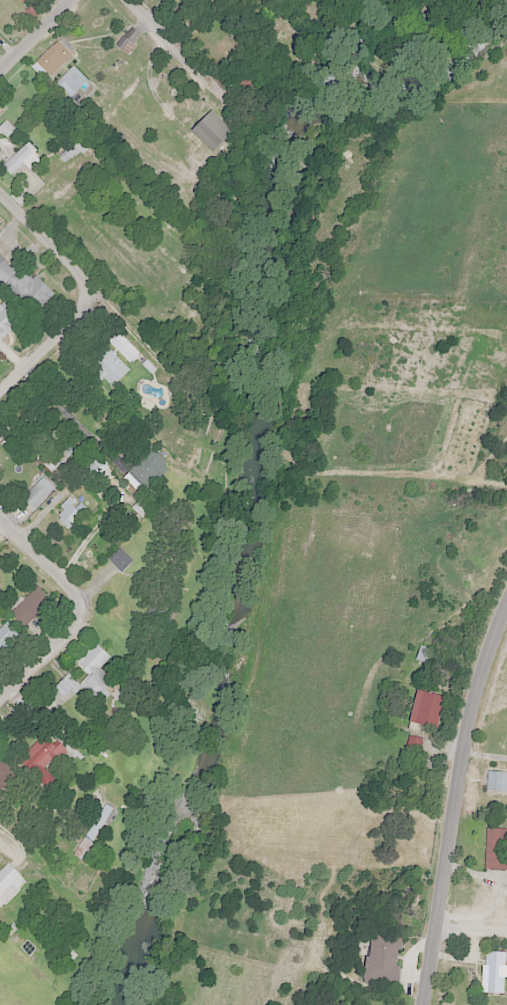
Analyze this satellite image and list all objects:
building: (30, 4)
road: (35, 35)
road: (176, 51)
building: (54, 57)
building: (71, 81)
building: (5, 129)
building: (19, 159)
road: (51, 225)
building: (24, 284)
building: (6, 317)
road: (52, 331)
building: (122, 347)
building: (105, 364)
road: (71, 413)
river: (261, 437)
building: (55, 454)
building: (147, 465)
building: (90, 469)
building: (37, 492)
building: (70, 510)
building: (119, 558)
road: (40, 571)
building: (30, 607)
building: (423, 653)
road: (40, 654)
building: (92, 670)
building: (425, 707)
building: (412, 742)
road: (485, 755)
building: (46, 757)
building: (5, 773)
building: (496, 780)
road: (454, 805)
building: (92, 834)
building: (495, 848)
road: (21, 852)
building: (8, 881)
road: (472, 927)
building: (493, 971)

